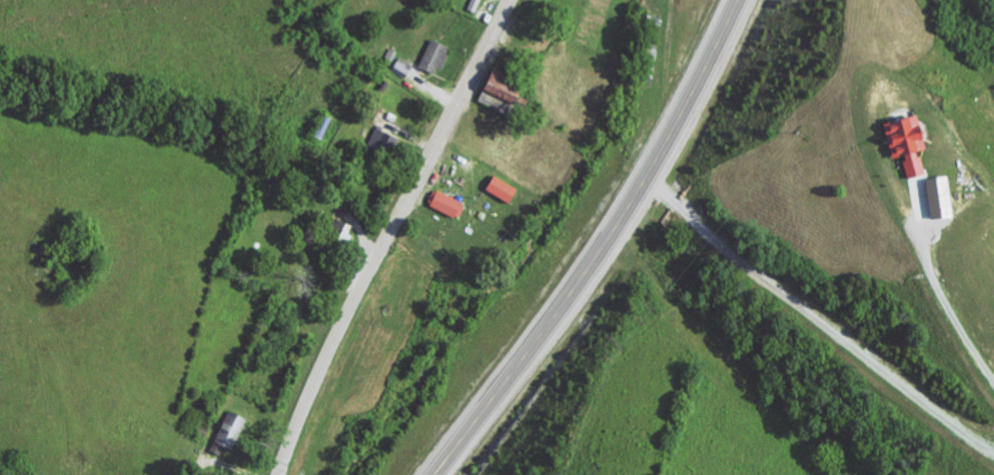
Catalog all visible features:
building: (472, 5)
building: (431, 55)
building: (400, 66)
building: (496, 85)
building: (490, 99)
building: (381, 140)
building: (903, 141)
building: (499, 187)
building: (937, 196)
building: (445, 203)
building: (921, 212)
road: (387, 235)
road: (602, 247)
building: (226, 431)

